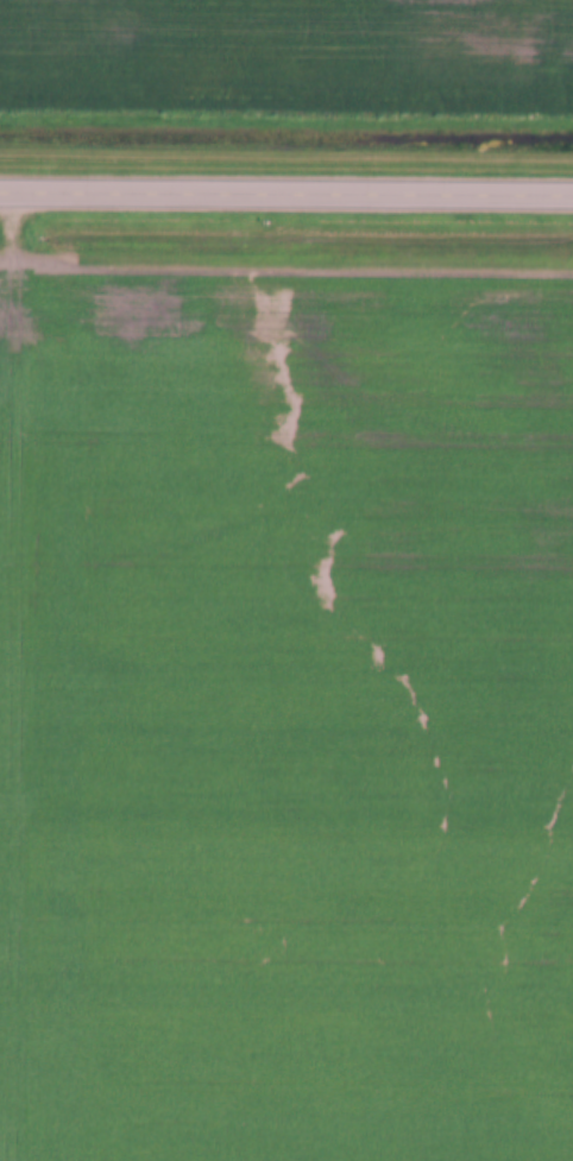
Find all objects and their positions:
road: (286, 196)

